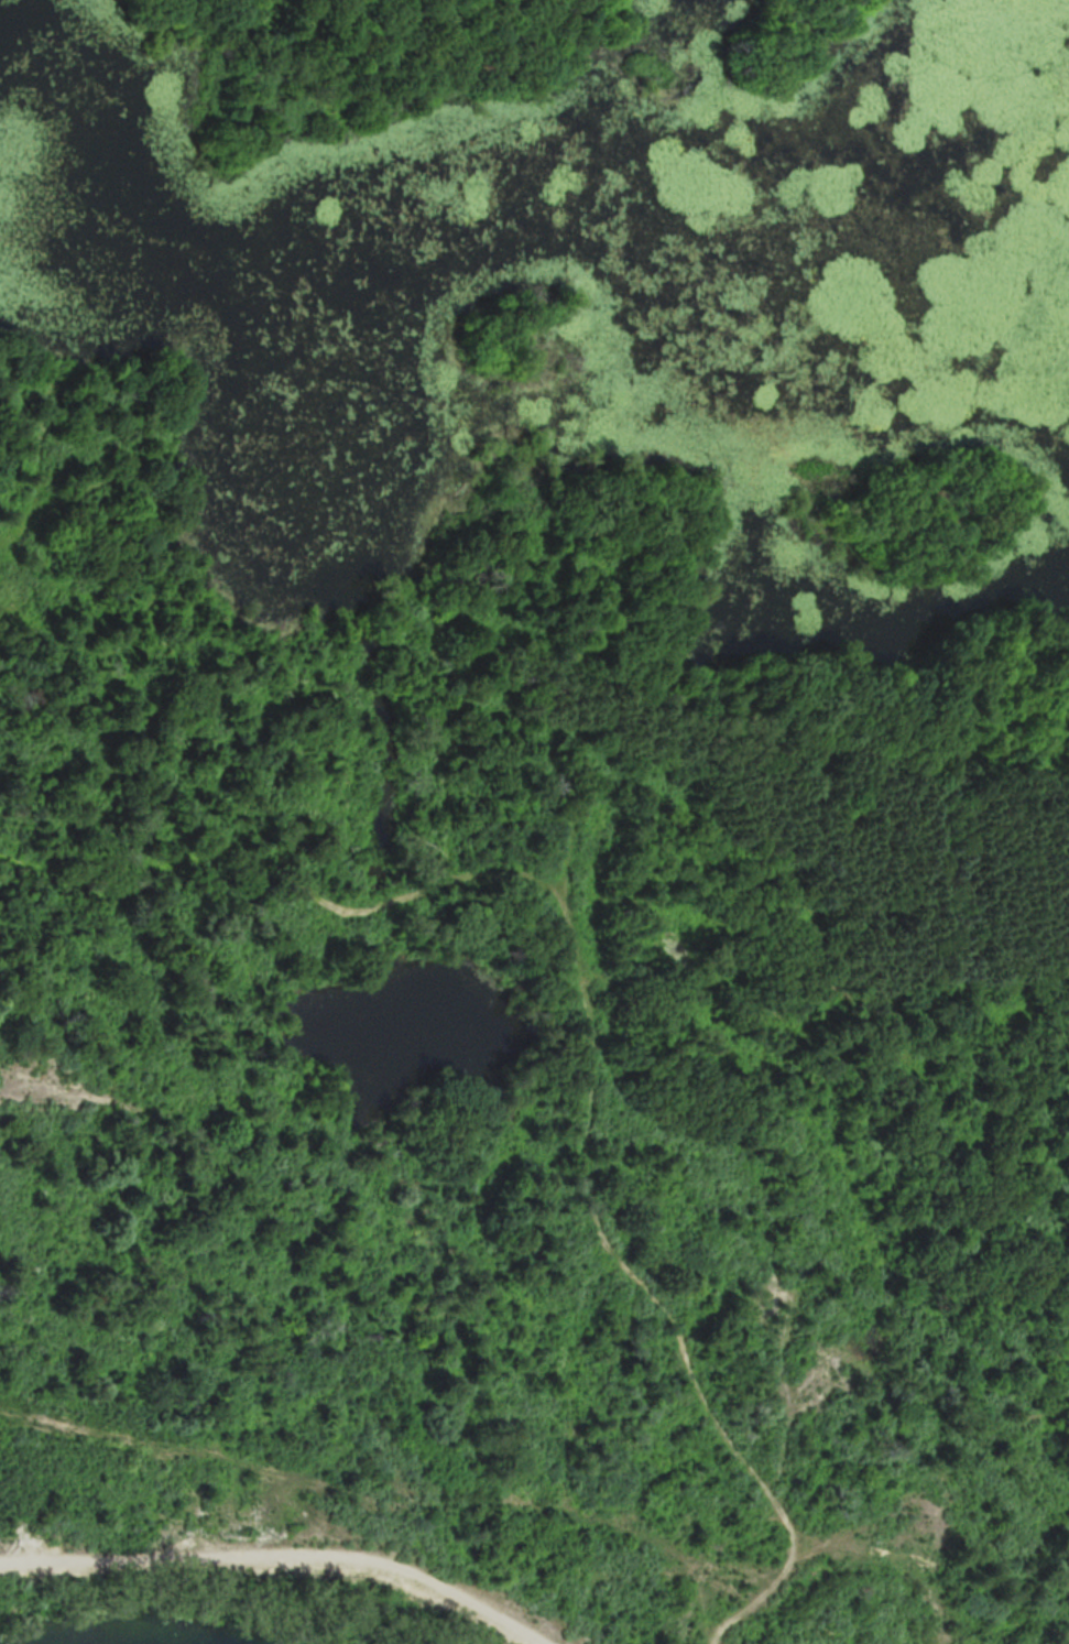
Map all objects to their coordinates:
road: (286, 1549)

